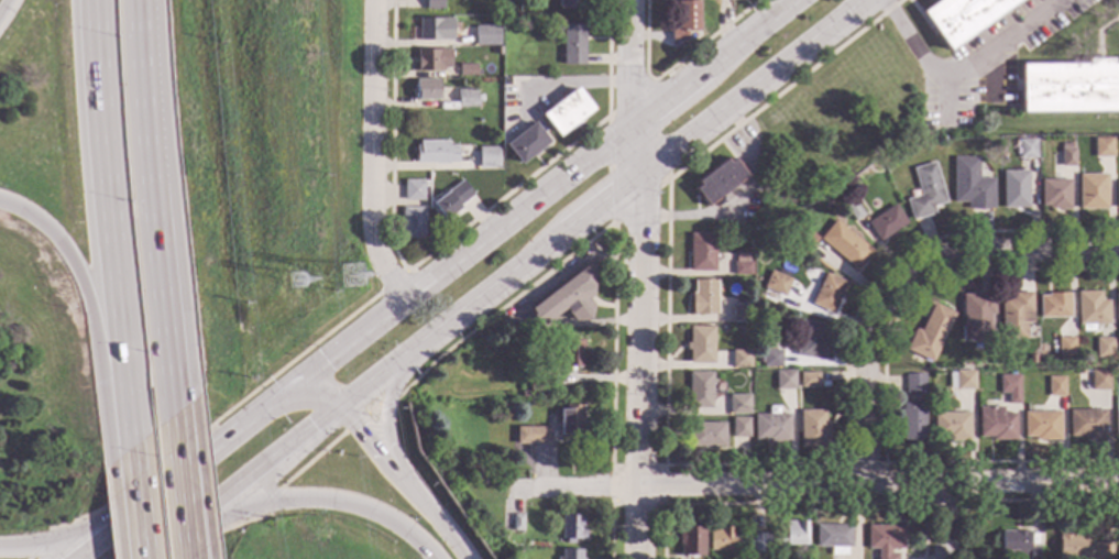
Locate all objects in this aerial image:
building: (571, 3)
building: (434, 4)
road: (4, 8)
building: (962, 18)
building: (685, 20)
building: (429, 30)
building: (482, 35)
building: (496, 40)
road: (709, 40)
building: (572, 45)
building: (498, 51)
building: (432, 59)
building: (467, 69)
road: (959, 74)
road: (656, 80)
building: (1069, 87)
building: (426, 89)
building: (465, 98)
street lamp: (117, 102)
building: (566, 112)
building: (525, 143)
building: (1102, 147)
building: (1028, 149)
building: (435, 152)
road: (373, 154)
building: (487, 157)
building: (1067, 157)
building: (888, 160)
building: (717, 182)
building: (972, 184)
building: (412, 189)
building: (1014, 189)
building: (925, 191)
building: (1093, 191)
building: (840, 193)
building: (1055, 194)
building: (1118, 195)
building: (451, 200)
building: (826, 202)
road: (107, 205)
road: (155, 206)
building: (854, 210)
building: (412, 222)
building: (886, 222)
building: (803, 239)
building: (844, 244)
building: (776, 245)
building: (701, 253)
building: (740, 265)
road: (436, 275)
road: (637, 278)
road: (907, 278)
road: (506, 281)
street lamp: (131, 283)
power tower: (351, 284)
building: (776, 284)
power tower: (296, 289)
road: (81, 292)
building: (827, 293)
building: (703, 297)
building: (566, 298)
building: (1054, 306)
building: (1117, 307)
building: (1090, 308)
building: (739, 313)
building: (1014, 316)
building: (976, 317)
building: (929, 333)
building: (810, 341)
building: (700, 344)
building: (1064, 347)
building: (1102, 348)
building: (571, 353)
building: (770, 358)
building: (739, 359)
building: (1030, 359)
building: (1080, 371)
building: (745, 374)
building: (808, 380)
building: (961, 380)
building: (1099, 380)
building: (783, 381)
building: (537, 382)
building: (913, 384)
traffic signals: (299, 386)
building: (1055, 386)
building: (1009, 388)
building: (699, 391)
building: (524, 394)
road: (353, 401)
traffic signals: (353, 401)
building: (737, 405)
road: (387, 407)
building: (570, 420)
building: (912, 420)
road: (176, 424)
building: (996, 424)
building: (1087, 424)
building: (1116, 424)
building: (951, 426)
building: (1041, 426)
road: (128, 427)
building: (771, 427)
building: (739, 428)
building: (812, 428)
building: (706, 435)
building: (531, 436)
building: (504, 456)
street lamp: (150, 461)
road: (685, 465)
road: (409, 478)
road: (811, 483)
road: (183, 496)
road: (194, 496)
road: (334, 501)
road: (134, 502)
road: (944, 519)
building: (516, 523)
building: (570, 528)
road: (450, 534)
building: (780, 537)
building: (720, 538)
building: (833, 538)
building: (884, 540)
road: (53, 541)
building: (691, 541)
building: (1018, 544)
building: (1080, 547)
building: (570, 555)

